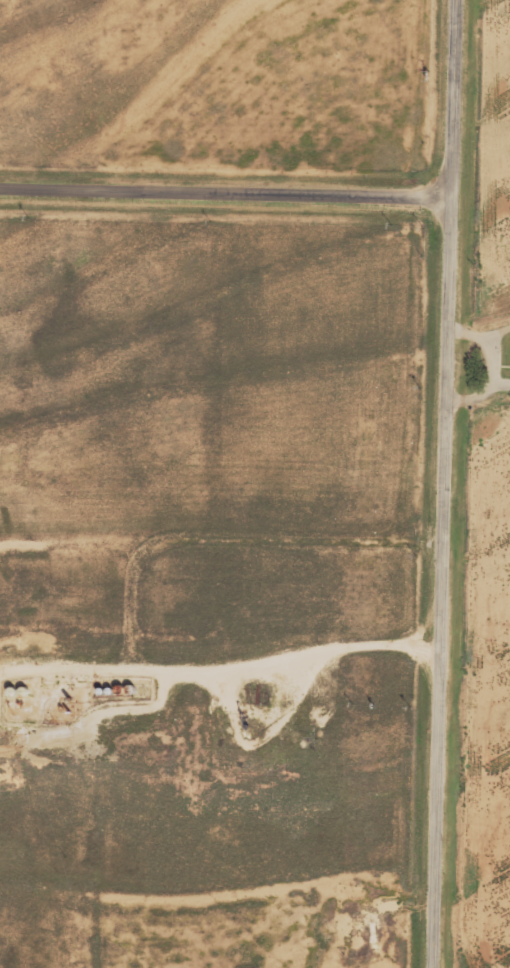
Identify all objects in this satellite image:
road: (78, 188)
road: (225, 189)
road: (372, 194)
road: (444, 483)
road: (493, 959)

